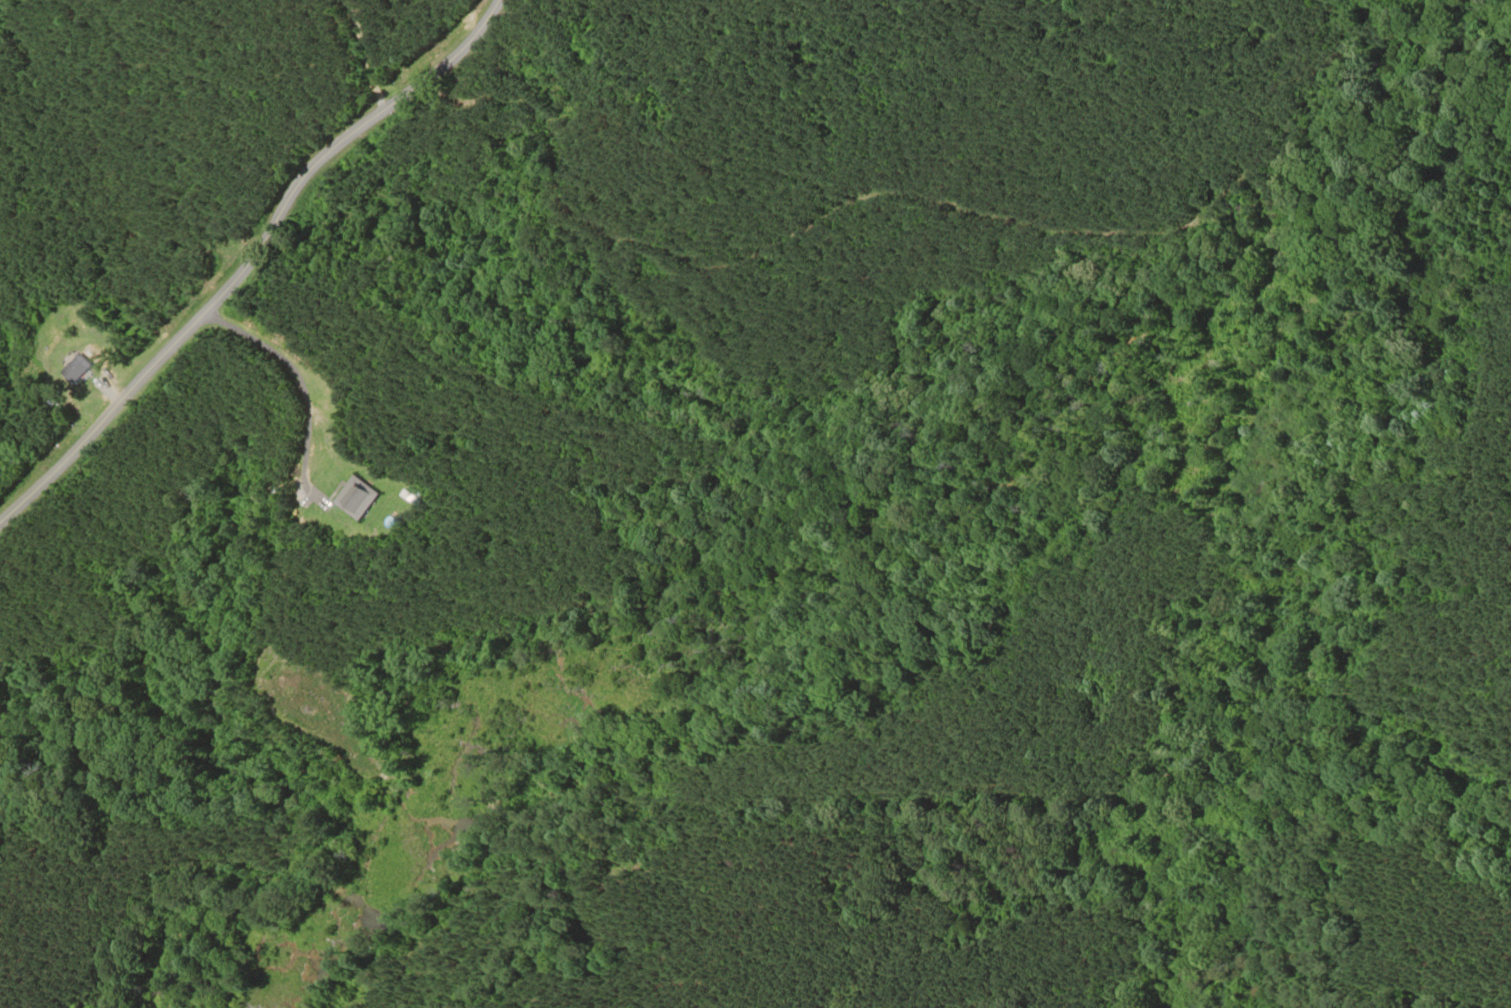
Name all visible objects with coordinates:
road: (251, 261)
building: (87, 363)
building: (371, 496)

